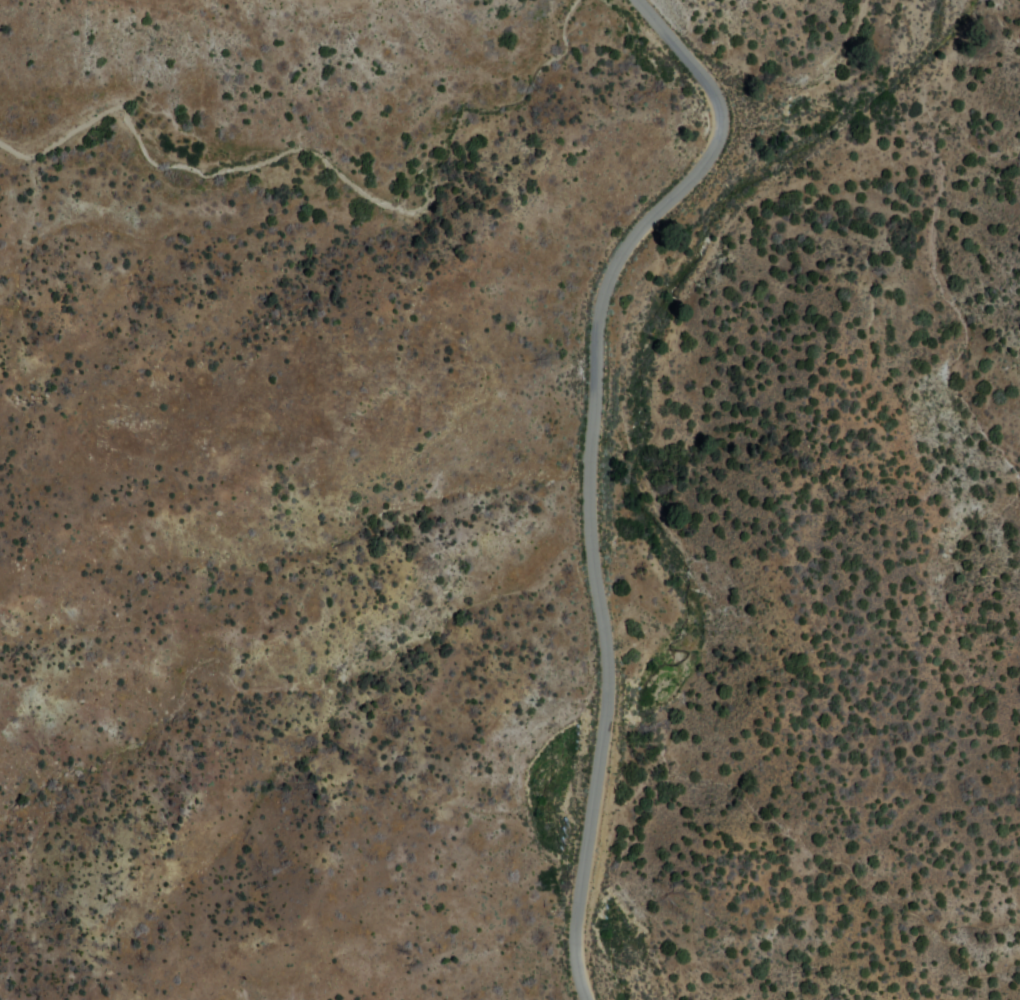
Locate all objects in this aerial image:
road: (573, 440)

